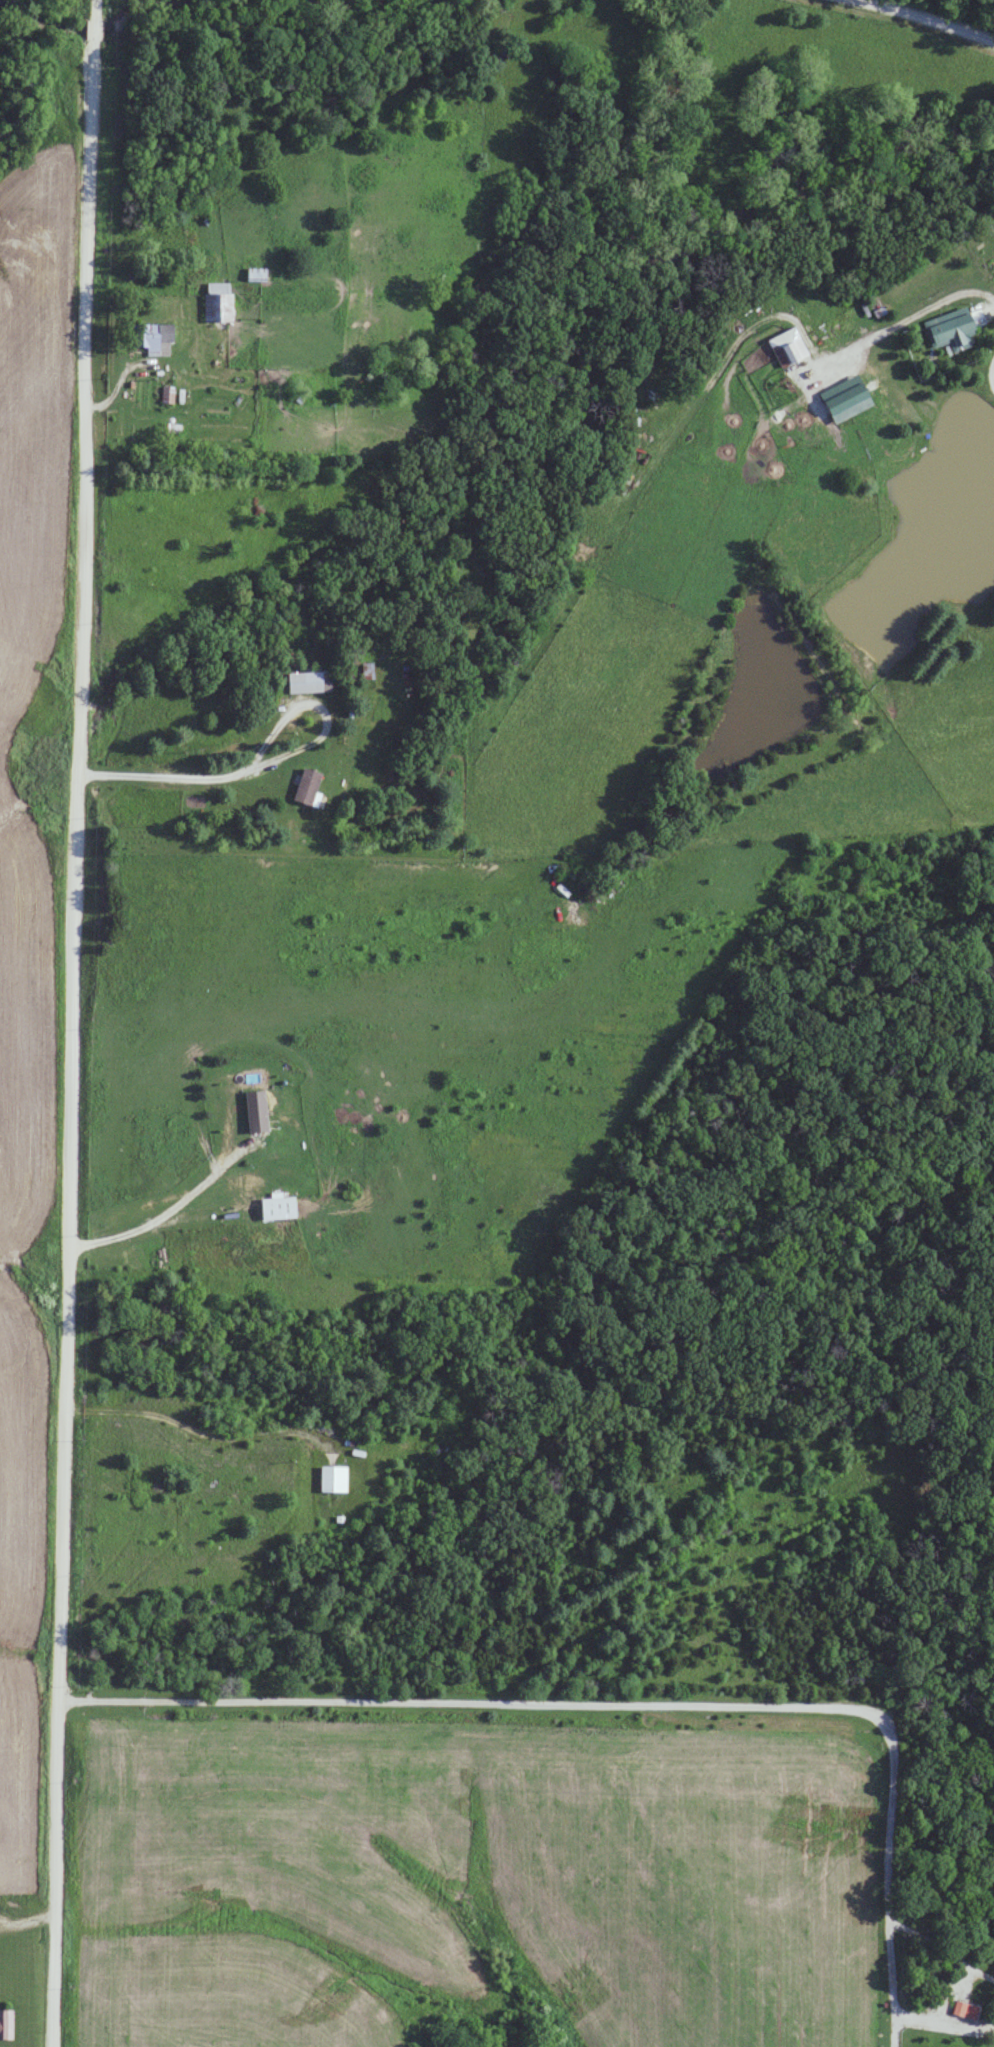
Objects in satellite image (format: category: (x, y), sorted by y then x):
road: (918, 25)
building: (257, 273)
building: (219, 301)
building: (955, 331)
building: (154, 336)
building: (787, 347)
building: (849, 404)
building: (307, 682)
building: (309, 787)
road: (93, 1023)
building: (251, 1114)
building: (279, 1207)
building: (333, 1478)
building: (965, 2008)
building: (6, 2025)

